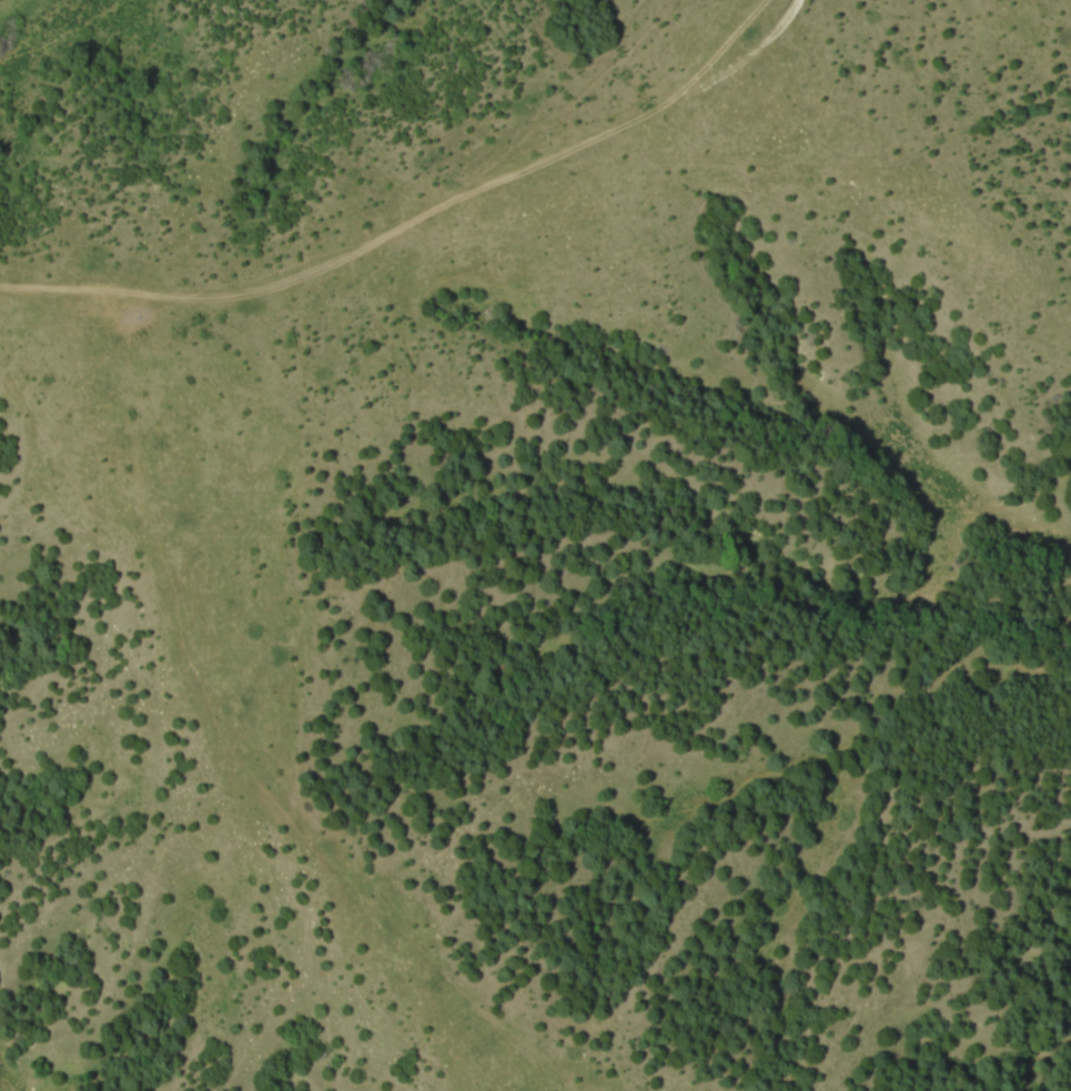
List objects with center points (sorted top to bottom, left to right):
road: (418, 213)

